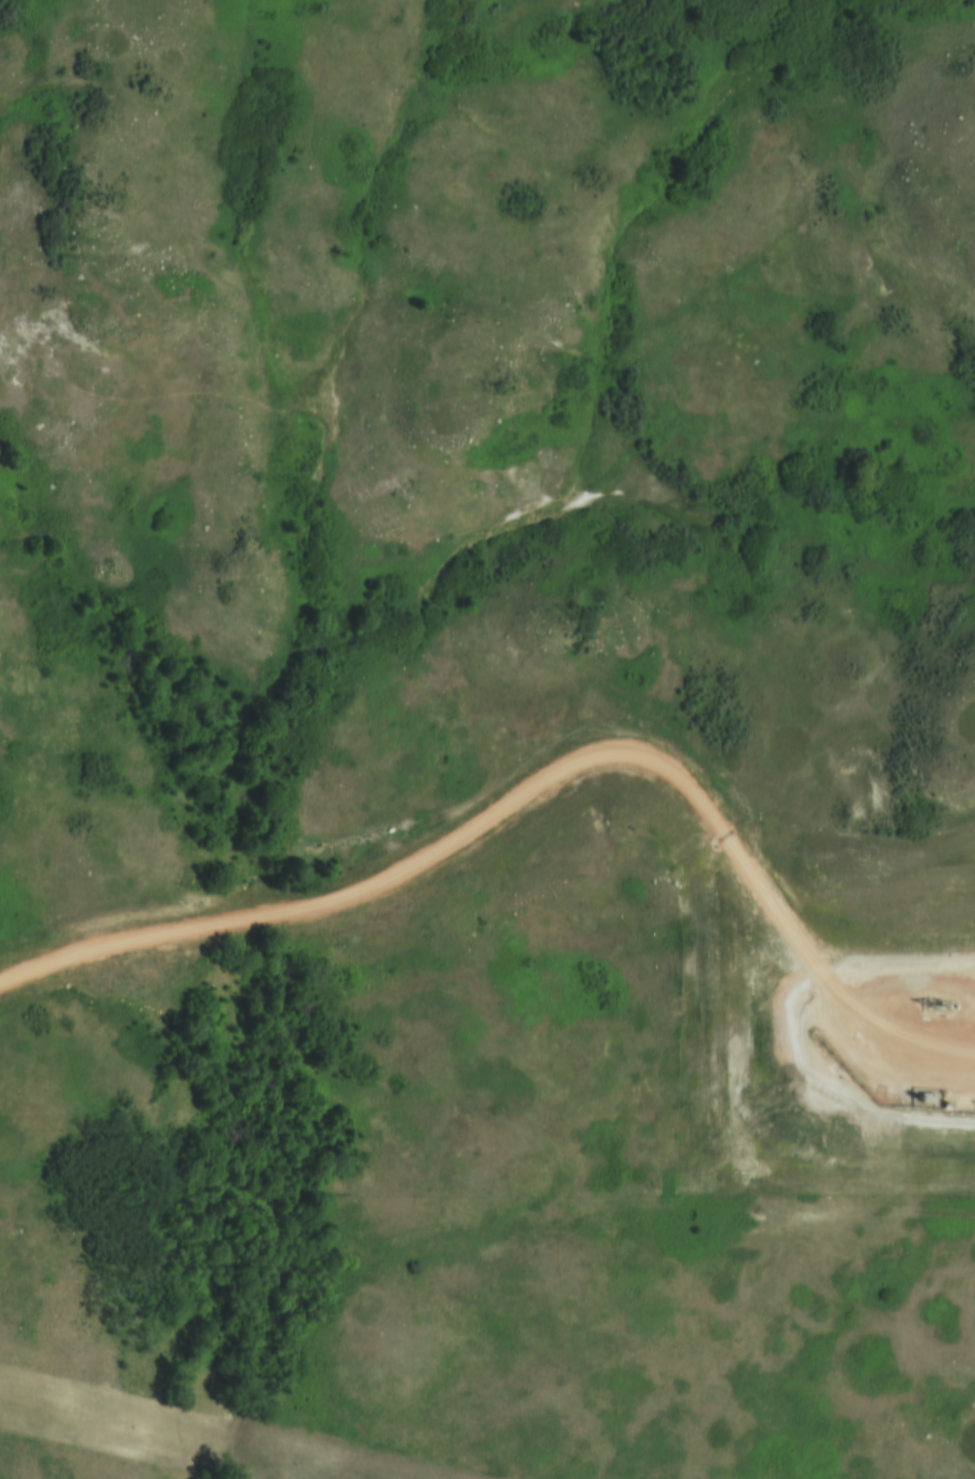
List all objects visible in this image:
petroleum well: (942, 1005)

